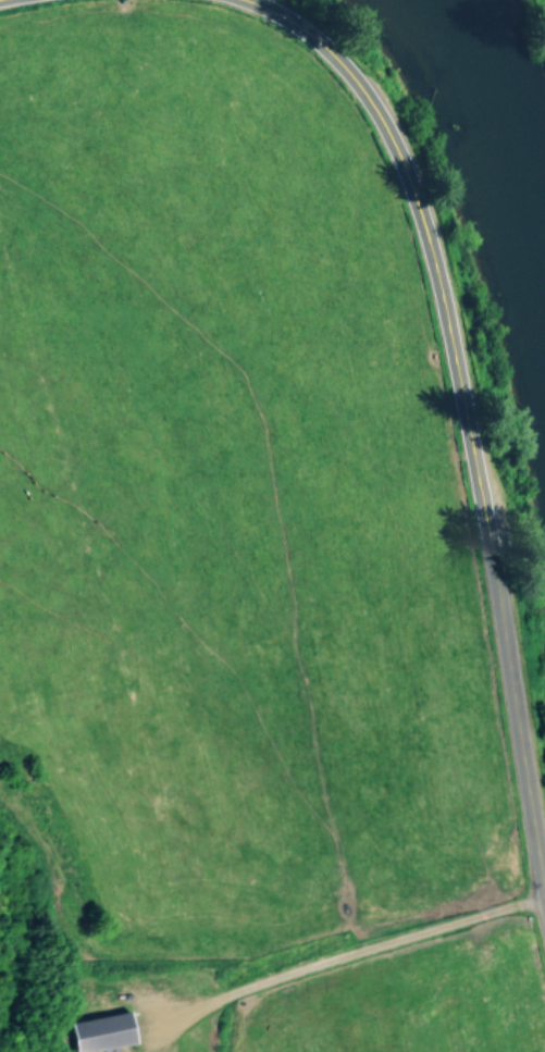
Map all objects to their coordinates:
river: (495, 150)
road: (465, 418)
crop: (233, 562)
road: (346, 964)
building: (100, 1030)

